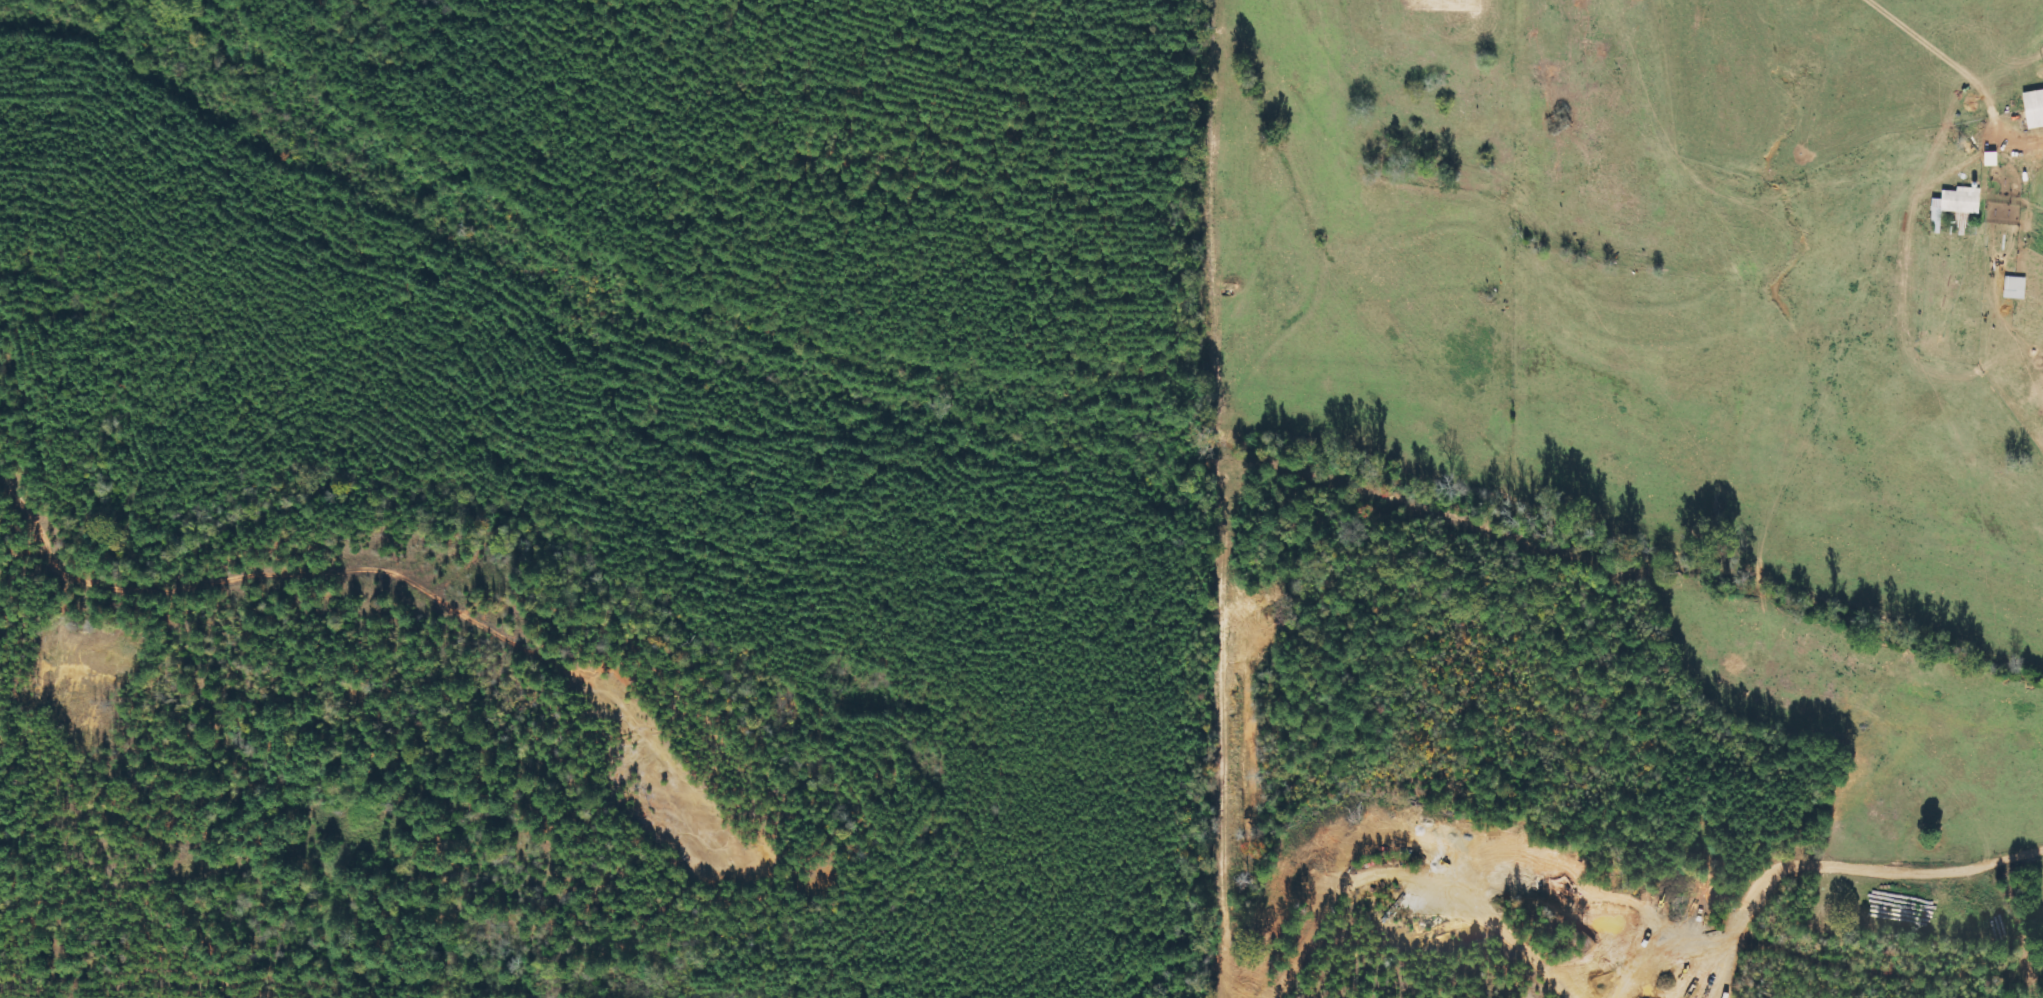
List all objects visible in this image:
building: (2035, 108)
building: (1957, 204)

